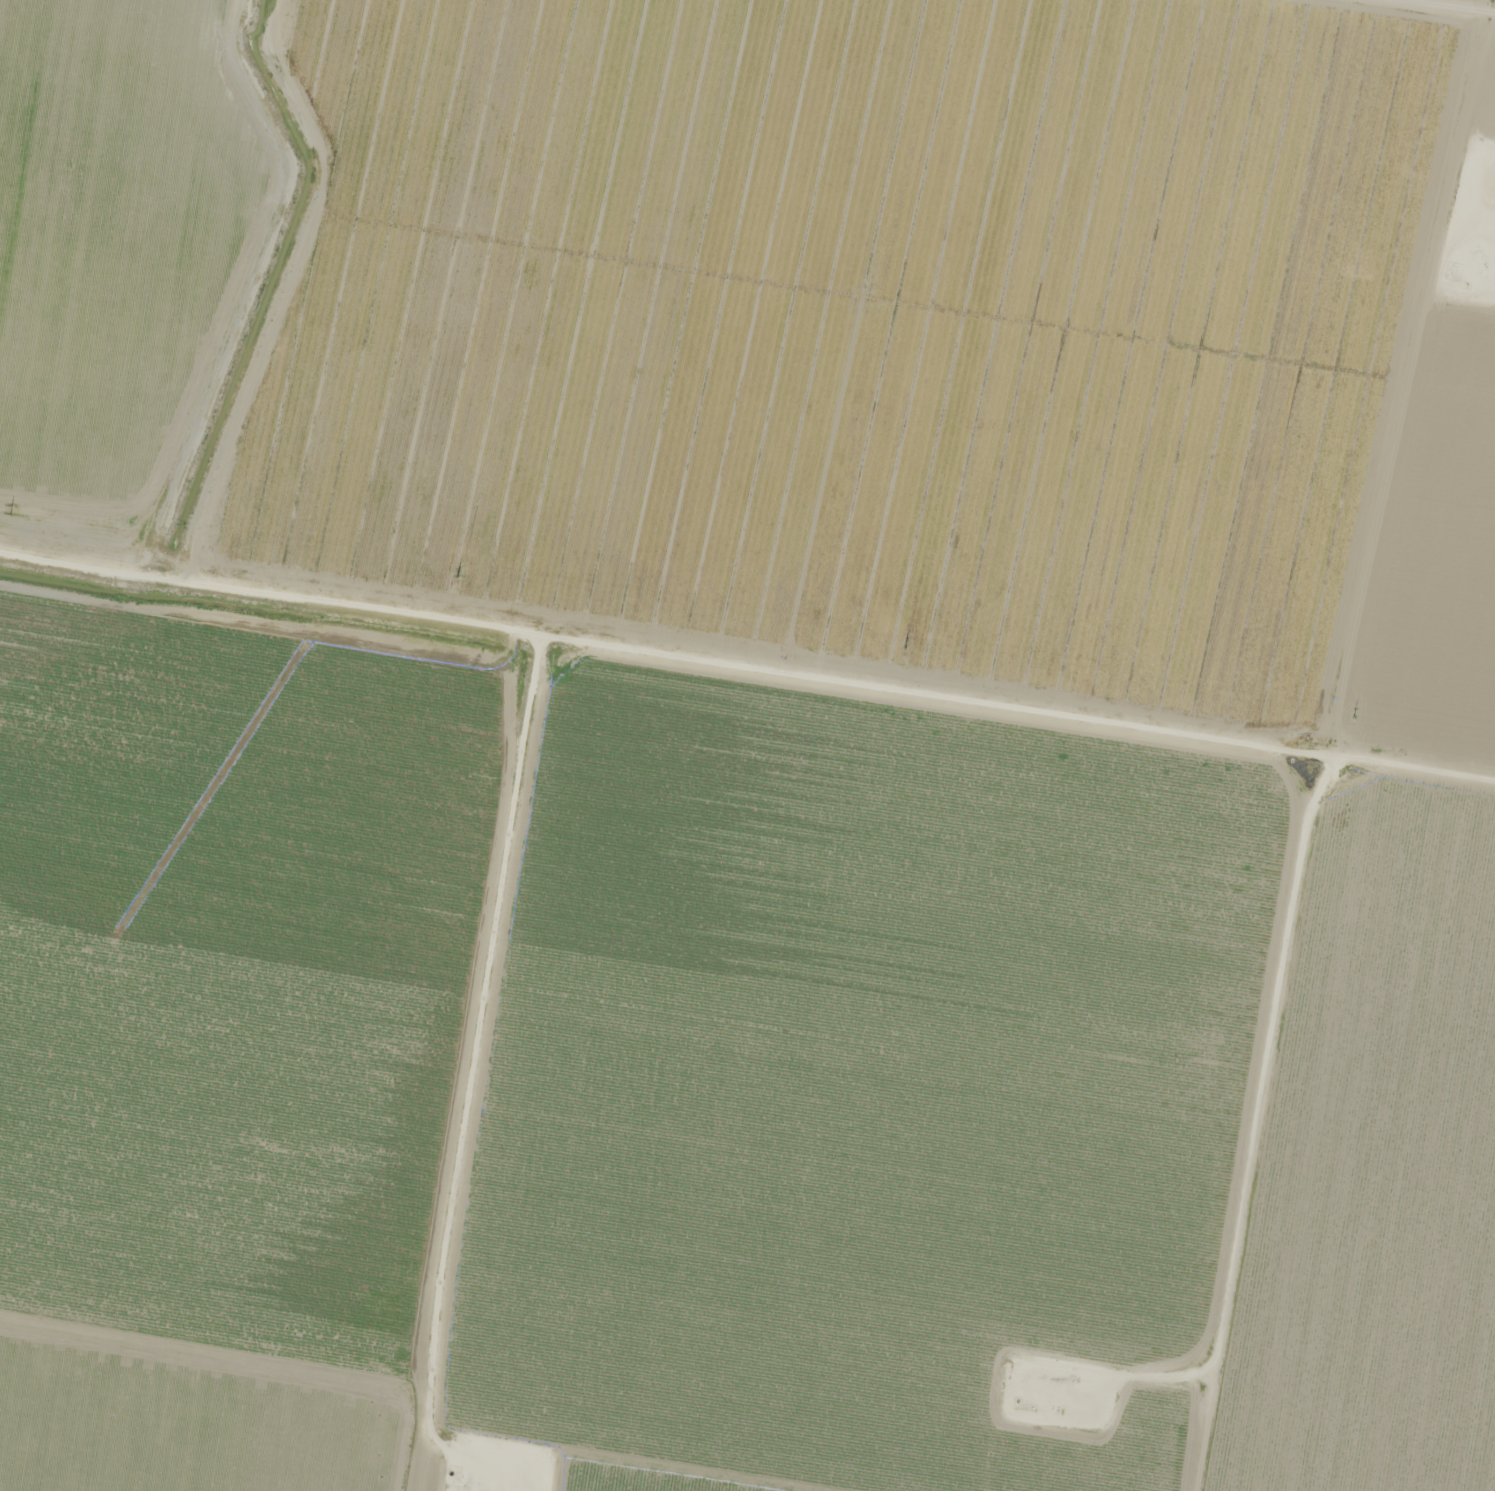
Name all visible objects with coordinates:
road: (1405, 14)
power tower: (9, 509)
power tower: (457, 571)
power tower: (906, 642)
power tower: (1353, 712)

